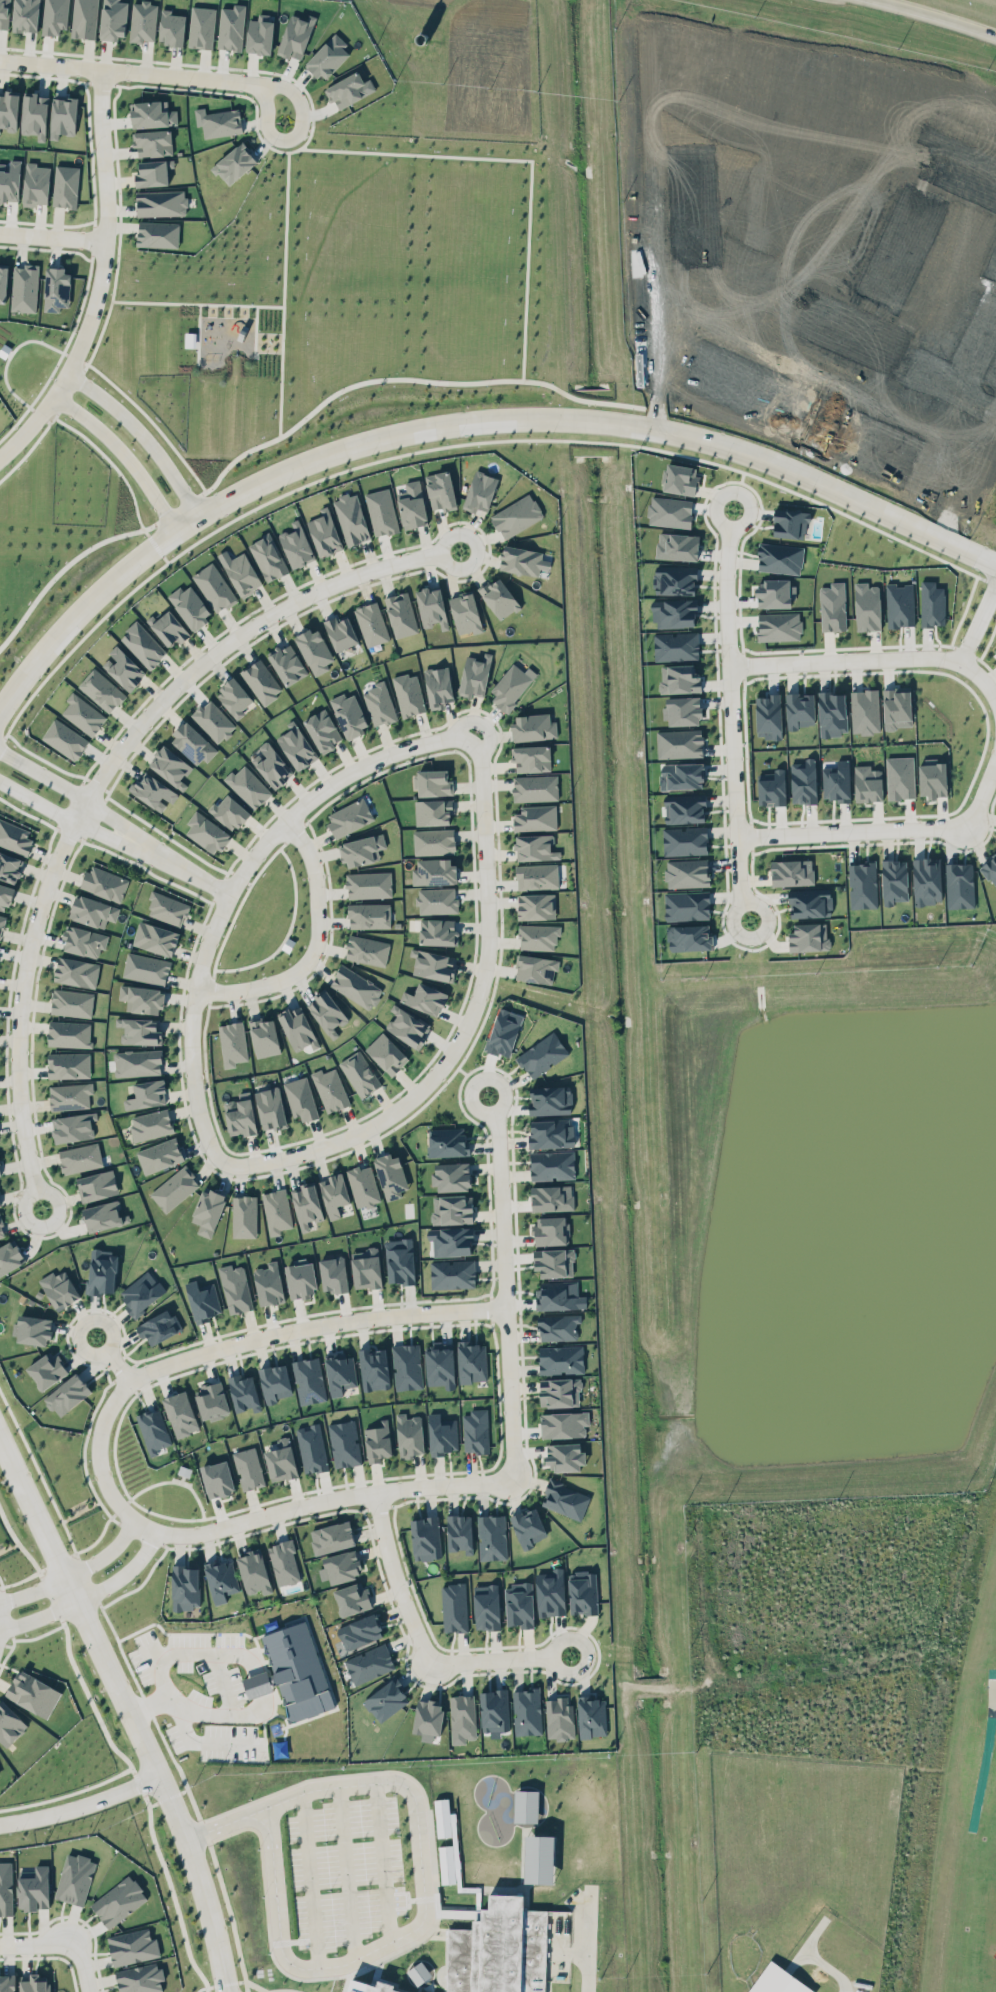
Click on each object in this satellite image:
building: (4, 13)
building: (23, 13)
building: (55, 16)
road: (935, 16)
building: (84, 18)
building: (113, 19)
building: (141, 20)
building: (171, 24)
building: (201, 27)
building: (231, 27)
building: (295, 32)
building: (260, 33)
building: (325, 53)
road: (130, 70)
building: (347, 89)
building: (9, 109)
building: (32, 111)
building: (152, 114)
building: (63, 115)
building: (221, 123)
road: (293, 133)
building: (152, 139)
building: (234, 163)
building: (151, 168)
building: (10, 180)
building: (35, 180)
building: (64, 183)
building: (158, 200)
building: (156, 231)
road: (51, 236)
road: (98, 274)
building: (3, 282)
building: (23, 285)
building: (55, 286)
building: (189, 339)
road: (407, 386)
road: (463, 421)
road: (138, 434)
road: (451, 442)
road: (120, 452)
building: (679, 479)
building: (440, 490)
building: (480, 491)
building: (411, 503)
road: (176, 508)
building: (378, 508)
building: (669, 510)
building: (516, 514)
building: (351, 516)
building: (788, 520)
road: (147, 527)
building: (325, 532)
road: (154, 544)
building: (296, 544)
building: (677, 546)
building: (778, 555)
building: (268, 557)
building: (523, 558)
road: (58, 571)
building: (242, 574)
building: (674, 579)
road: (987, 580)
building: (212, 586)
building: (773, 590)
building: (499, 598)
building: (189, 604)
building: (932, 604)
building: (900, 605)
building: (432, 606)
building: (867, 606)
building: (832, 607)
building: (672, 609)
building: (465, 612)
building: (399, 613)
road: (977, 618)
building: (370, 622)
building: (778, 625)
building: (339, 629)
building: (170, 630)
road: (241, 632)
building: (143, 644)
building: (676, 646)
building: (995, 647)
building: (315, 650)
road: (873, 658)
building: (286, 660)
building: (123, 667)
building: (475, 675)
building: (679, 678)
building: (260, 680)
building: (510, 684)
building: (438, 686)
building: (101, 691)
building: (409, 694)
building: (234, 696)
building: (380, 704)
building: (894, 706)
building: (682, 707)
building: (800, 709)
building: (81, 711)
building: (347, 711)
building: (865, 711)
road: (731, 713)
building: (767, 713)
building: (832, 713)
building: (211, 718)
building: (532, 724)
building: (321, 726)
building: (64, 737)
road: (2, 739)
building: (192, 740)
building: (679, 741)
building: (296, 746)
building: (530, 756)
building: (271, 762)
building: (169, 763)
road: (43, 773)
building: (681, 775)
building: (898, 775)
building: (932, 777)
building: (430, 779)
road: (333, 781)
building: (803, 781)
building: (837, 781)
building: (246, 783)
building: (867, 783)
building: (535, 787)
building: (771, 787)
building: (154, 792)
building: (684, 808)
building: (229, 811)
building: (433, 813)
building: (533, 815)
building: (349, 817)
road: (90, 827)
road: (890, 828)
building: (207, 832)
building: (14, 834)
building: (682, 838)
building: (434, 841)
building: (532, 843)
building: (361, 846)
road: (179, 865)
building: (989, 866)
building: (9, 867)
building: (433, 871)
building: (687, 872)
building: (792, 872)
building: (538, 877)
building: (892, 877)
building: (927, 880)
building: (861, 881)
building: (105, 883)
building: (368, 884)
building: (959, 885)
building: (5, 896)
building: (436, 900)
building: (810, 903)
building: (686, 905)
building: (536, 906)
building: (92, 908)
building: (167, 908)
building: (369, 915)
building: (1, 923)
building: (438, 931)
building: (536, 932)
building: (688, 933)
building: (807, 933)
building: (154, 935)
building: (84, 941)
road: (314, 945)
building: (367, 949)
building: (433, 964)
building: (532, 964)
building: (146, 968)
building: (76, 971)
building: (355, 983)
building: (423, 995)
road: (23, 998)
building: (142, 1000)
building: (72, 1002)
building: (327, 1013)
road: (465, 1022)
building: (297, 1023)
building: (408, 1027)
road: (191, 1028)
building: (139, 1032)
building: (504, 1032)
building: (69, 1033)
building: (263, 1034)
building: (232, 1043)
building: (385, 1050)
building: (541, 1050)
building: (67, 1062)
building: (137, 1062)
building: (358, 1070)
building: (329, 1086)
building: (147, 1094)
building: (70, 1095)
building: (300, 1096)
building: (550, 1100)
building: (269, 1106)
building: (240, 1114)
building: (150, 1122)
building: (72, 1123)
building: (551, 1133)
building: (448, 1144)
building: (157, 1152)
building: (80, 1157)
building: (550, 1163)
building: (0, 1172)
building: (391, 1175)
building: (452, 1176)
building: (97, 1185)
building: (363, 1185)
building: (174, 1186)
building: (334, 1194)
building: (552, 1197)
building: (450, 1205)
building: (306, 1206)
building: (277, 1211)
building: (208, 1213)
building: (101, 1214)
building: (244, 1217)
building: (549, 1225)
building: (1, 1228)
building: (451, 1240)
building: (9, 1252)
building: (399, 1260)
building: (554, 1262)
building: (366, 1268)
building: (102, 1271)
building: (452, 1271)
building: (333, 1274)
building: (298, 1275)
building: (269, 1283)
road: (504, 1284)
building: (59, 1288)
building: (235, 1288)
building: (141, 1292)
building: (554, 1293)
building: (203, 1300)
building: (31, 1324)
building: (158, 1326)
building: (558, 1327)
road: (226, 1343)
road: (112, 1357)
building: (559, 1357)
building: (472, 1361)
building: (440, 1364)
building: (407, 1366)
building: (46, 1367)
building: (374, 1368)
building: (340, 1372)
building: (309, 1380)
building: (275, 1382)
building: (559, 1391)
building: (244, 1392)
building: (67, 1394)
building: (211, 1401)
building: (181, 1414)
building: (563, 1424)
building: (475, 1428)
building: (153, 1430)
building: (440, 1431)
building: (409, 1435)
building: (343, 1440)
building: (377, 1441)
building: (312, 1448)
building: (564, 1456)
building: (281, 1459)
building: (248, 1468)
road: (37, 1473)
building: (217, 1478)
road: (330, 1497)
building: (564, 1499)
building: (528, 1526)
building: (330, 1533)
building: (459, 1533)
building: (490, 1534)
building: (425, 1538)
road: (17, 1547)
building: (284, 1562)
building: (342, 1566)
road: (74, 1569)
building: (254, 1571)
building: (221, 1576)
road: (88, 1579)
building: (185, 1587)
road: (87, 1592)
building: (551, 1592)
building: (583, 1592)
building: (350, 1595)
road: (48, 1599)
building: (519, 1604)
building: (454, 1606)
building: (486, 1606)
building: (359, 1626)
road: (422, 1643)
building: (368, 1661)
building: (297, 1670)
road: (224, 1683)
building: (259, 1684)
building: (32, 1689)
building: (386, 1696)
road: (88, 1699)
building: (494, 1709)
road: (130, 1711)
building: (527, 1711)
building: (428, 1716)
building: (592, 1716)
building: (462, 1718)
building: (559, 1718)
building: (9, 1724)
road: (198, 1742)
road: (135, 1781)
road: (67, 1793)
road: (188, 1795)
road: (166, 1797)
road: (81, 1802)
building: (526, 1805)
building: (455, 1840)
building: (539, 1859)
road: (382, 1861)
road: (349, 1871)
building: (75, 1878)
road: (310, 1878)
building: (6, 1886)
building: (33, 1888)
road: (421, 1889)
road: (169, 1894)
building: (118, 1900)
park: (992, 1938)
road: (38, 1941)
building: (132, 1946)
building: (499, 1949)
road: (587, 1950)
road: (84, 1966)
building: (419, 1972)
building: (139, 1977)
building: (778, 1982)
building: (7, 1983)
building: (33, 1983)
building: (378, 1988)

